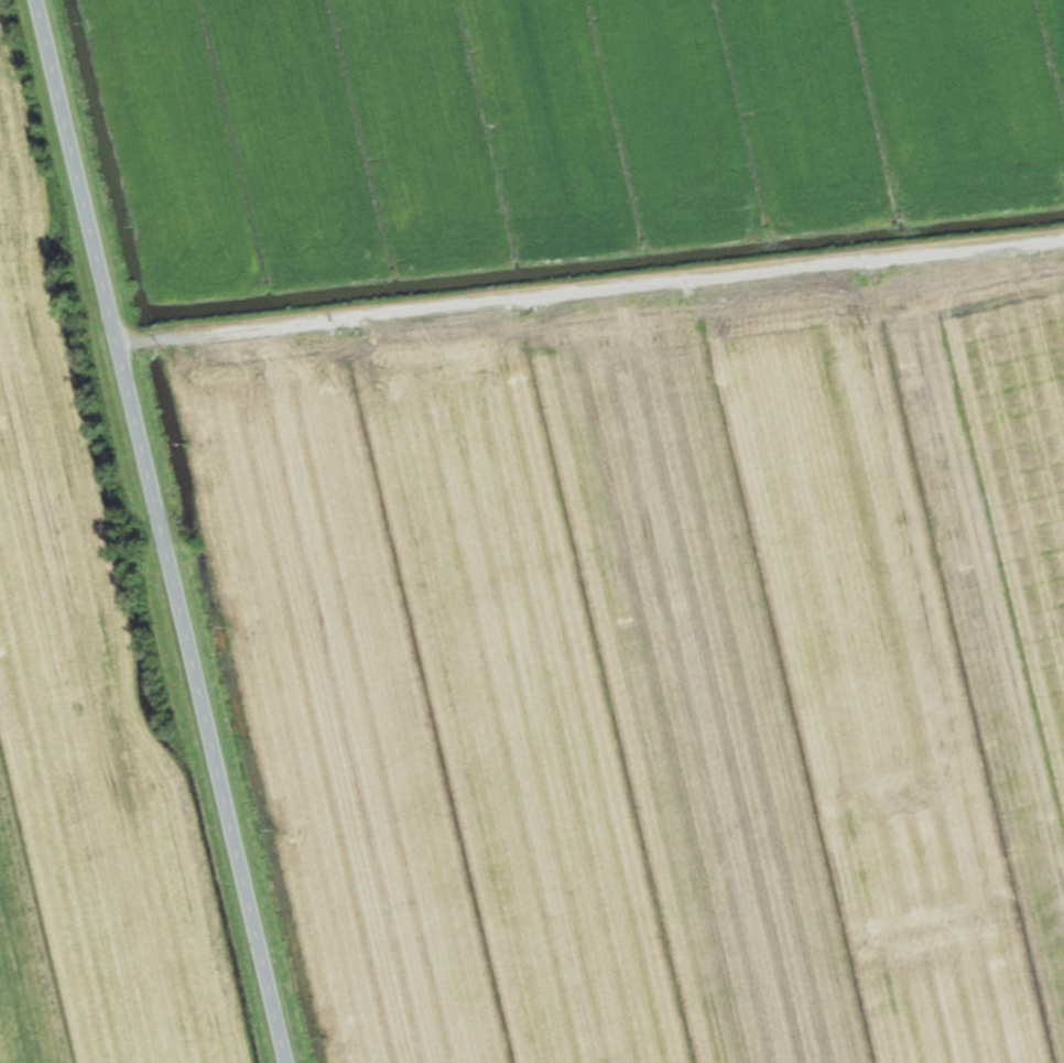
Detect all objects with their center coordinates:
road: (587, 279)
road: (156, 531)
crop: (82, 742)

